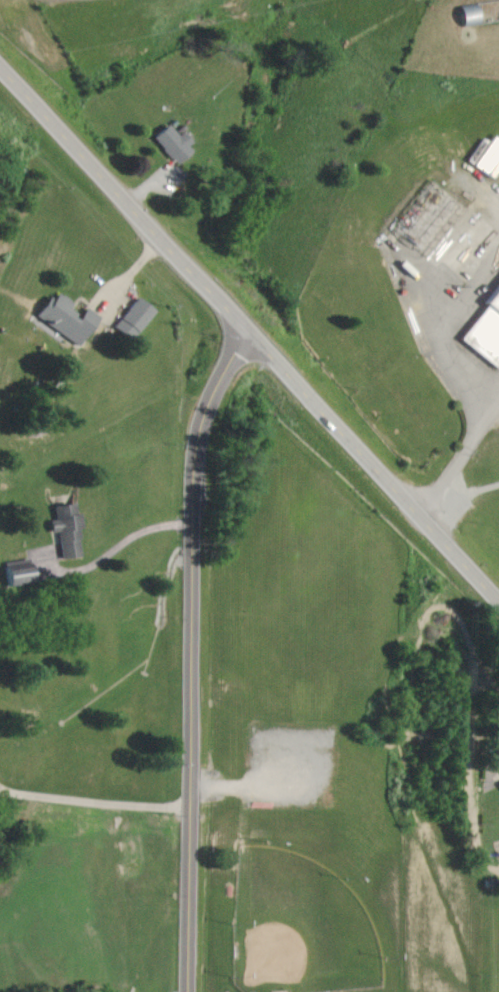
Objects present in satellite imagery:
airport: (456, 38)
building: (177, 144)
building: (427, 218)
building: (71, 317)
building: (138, 318)
road: (438, 325)
building: (483, 331)
road: (249, 335)
road: (456, 455)
building: (70, 527)
road: (190, 655)
building: (498, 766)
road: (93, 800)
park: (304, 919)
stadium: (299, 926)
park: (496, 957)

